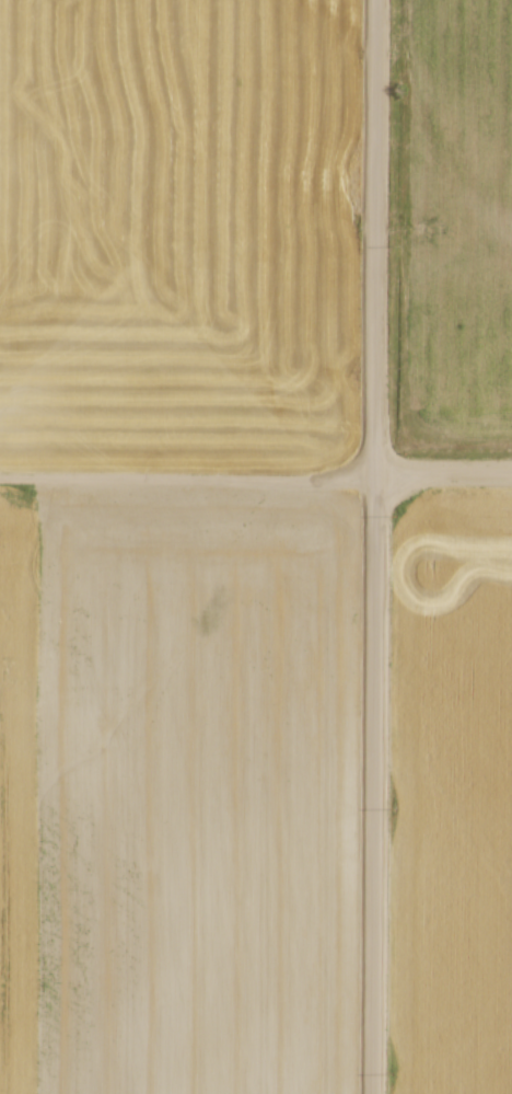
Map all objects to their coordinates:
road: (446, 476)
road: (190, 481)
road: (380, 546)

